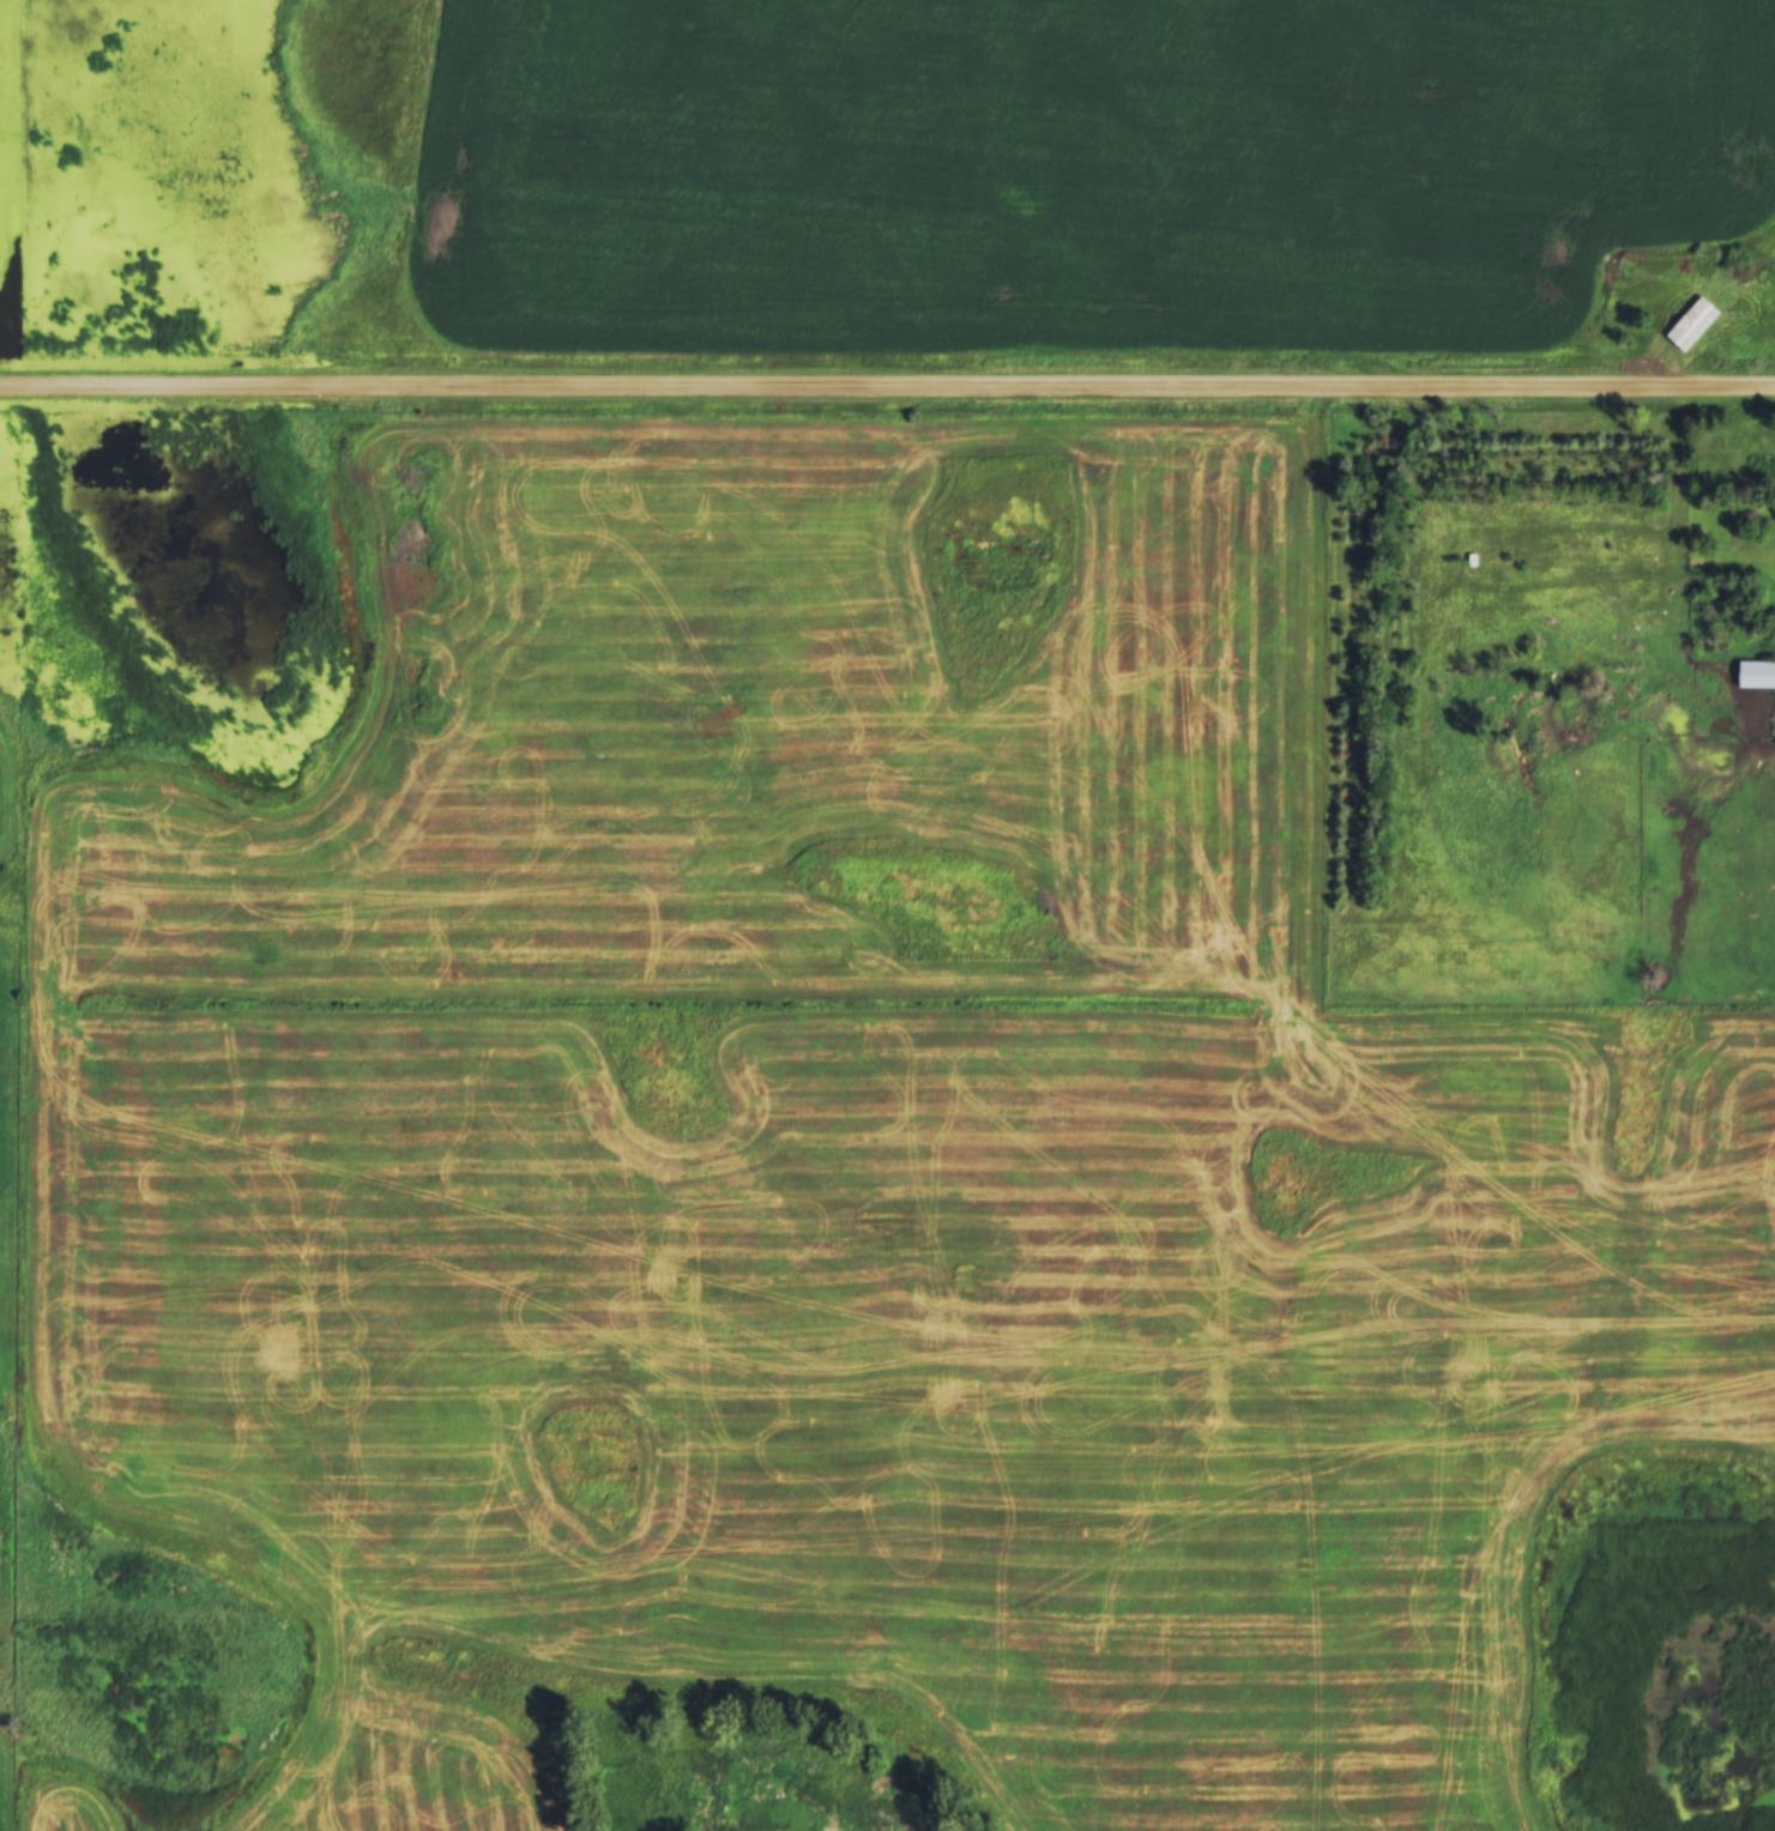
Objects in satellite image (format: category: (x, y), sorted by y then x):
road: (887, 389)
building: (1759, 466)
building: (1756, 673)

